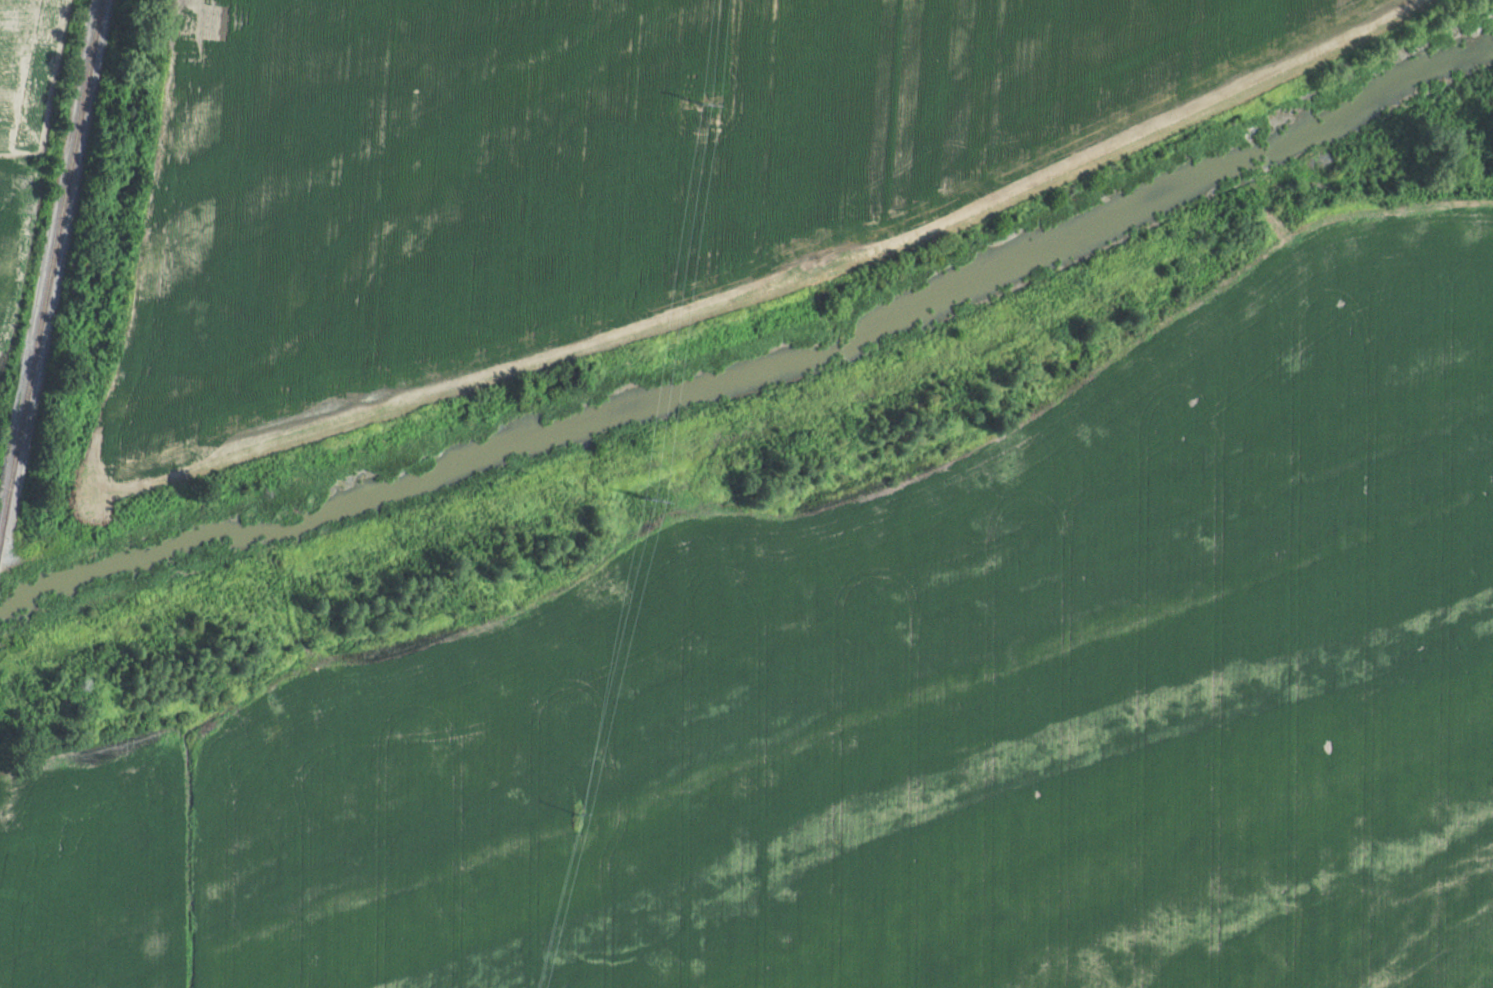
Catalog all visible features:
railway: (52, 266)
railway: (1, 537)

